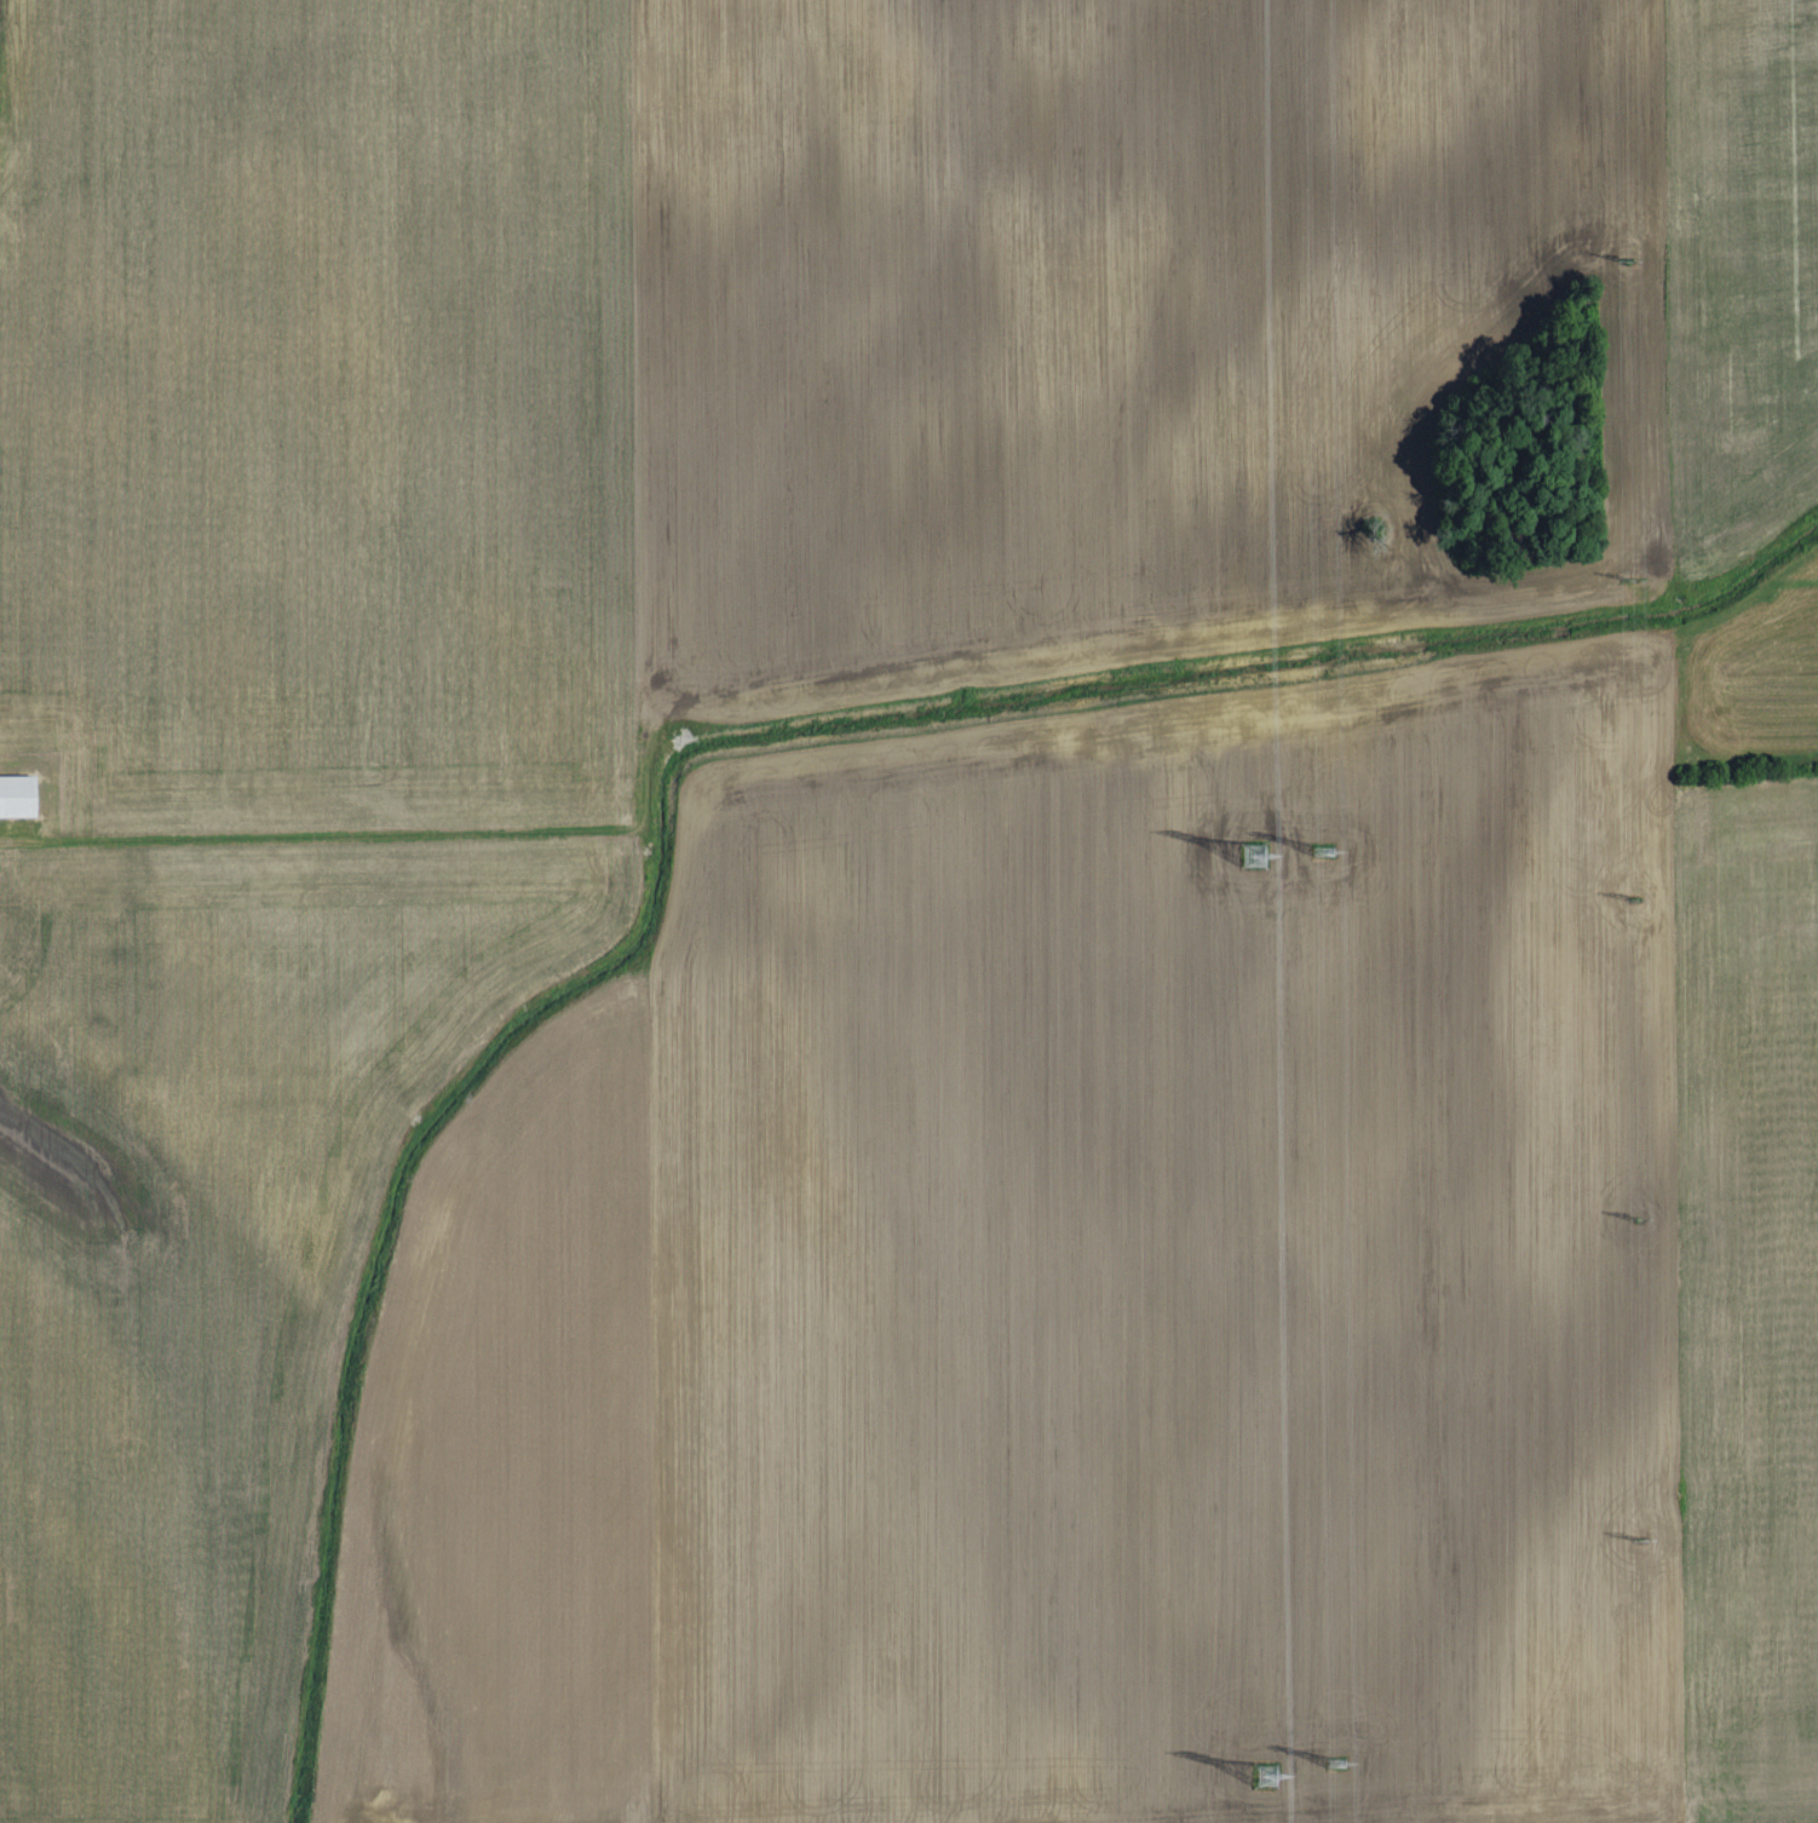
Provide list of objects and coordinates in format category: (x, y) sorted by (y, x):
building: (18, 797)
power tower: (1254, 856)
power tower: (1266, 1777)

